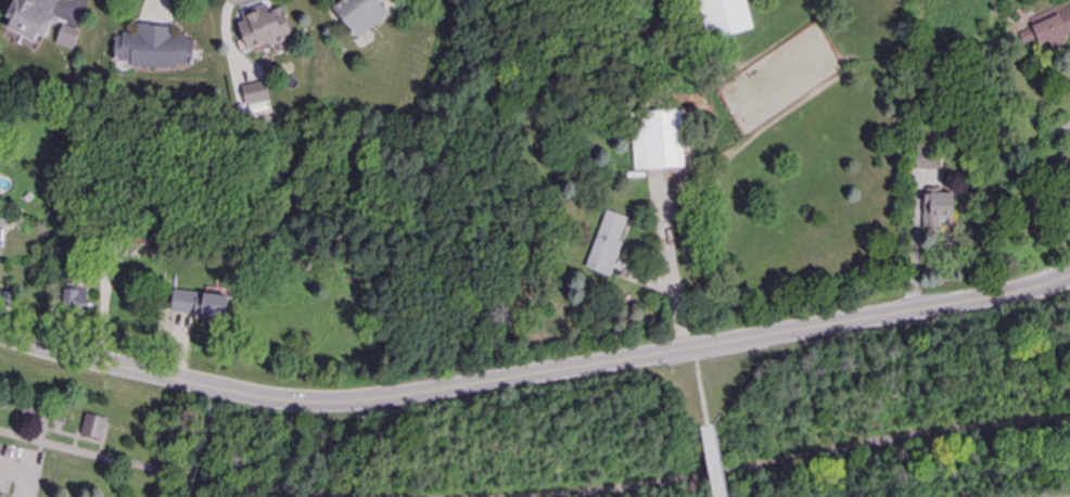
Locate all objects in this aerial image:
building: (361, 15)
building: (724, 17)
building: (31, 18)
building: (1048, 27)
building: (264, 28)
building: (67, 37)
building: (155, 49)
building: (256, 93)
building: (659, 140)
building: (938, 208)
building: (608, 244)
road: (1056, 285)
road: (1056, 294)
building: (76, 300)
building: (201, 306)
road: (519, 380)
road: (706, 388)
building: (92, 426)
road: (815, 454)
road: (719, 461)
parking lot: (18, 467)
road: (14, 469)
road: (155, 471)
road: (26, 484)

